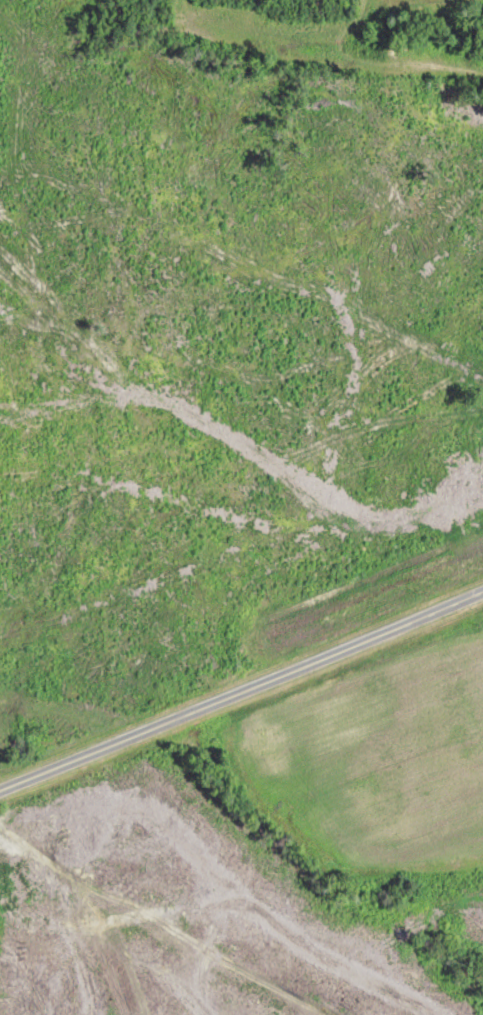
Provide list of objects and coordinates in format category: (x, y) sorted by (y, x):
road: (240, 689)

